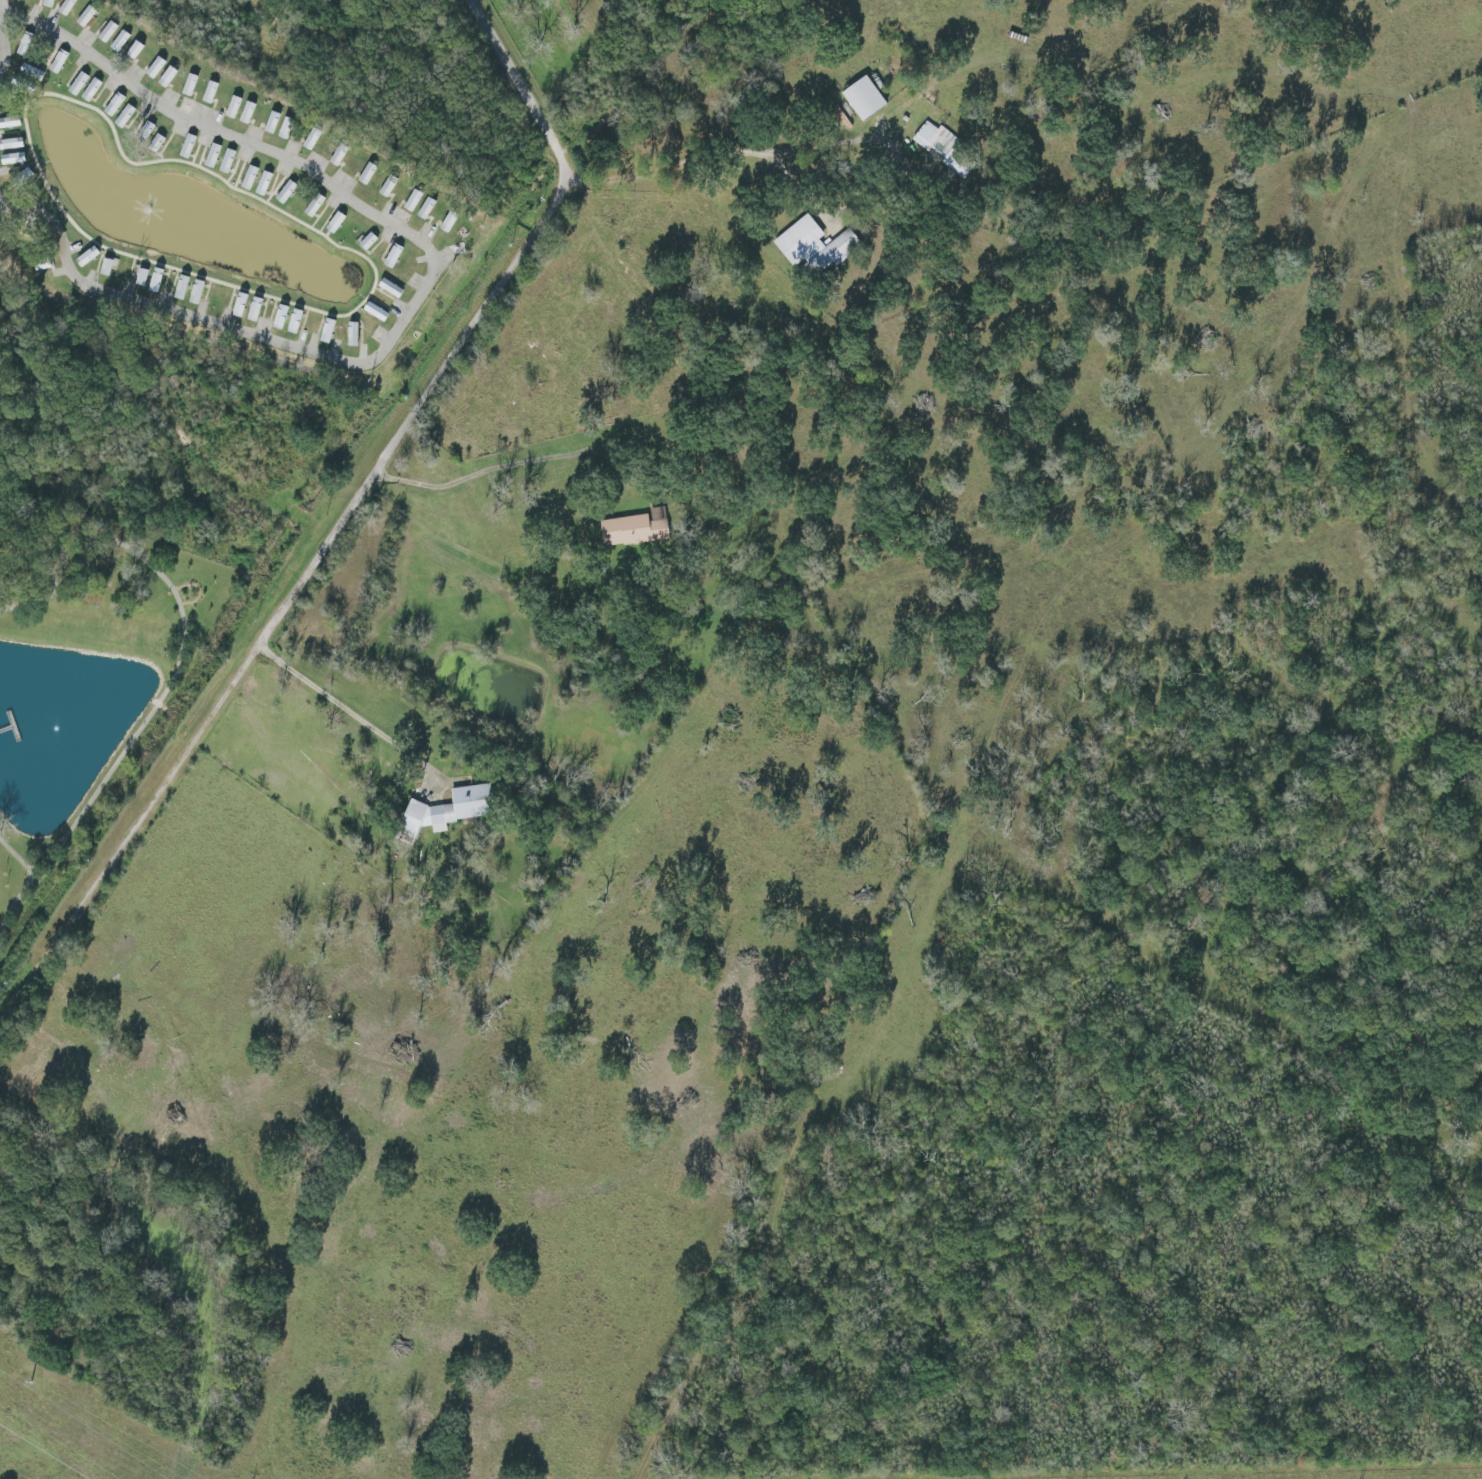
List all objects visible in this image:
building: (48, 3)
building: (66, 7)
building: (85, 16)
building: (106, 32)
building: (119, 41)
building: (24, 45)
building: (134, 50)
building: (58, 62)
building: (155, 68)
building: (31, 72)
building: (167, 77)
building: (77, 84)
building: (189, 85)
building: (91, 90)
building: (209, 92)
building: (865, 99)
building: (114, 105)
building: (232, 107)
building: (247, 113)
building: (124, 116)
building: (9, 122)
building: (271, 123)
building: (285, 128)
building: (147, 129)
building: (311, 139)
building: (156, 142)
building: (11, 144)
building: (187, 146)
building: (941, 147)
road: (729, 154)
building: (338, 155)
building: (212, 156)
building: (13, 159)
building: (227, 161)
building: (367, 174)
building: (249, 178)
building: (263, 184)
building: (387, 186)
building: (286, 192)
building: (412, 201)
building: (314, 206)
building: (425, 209)
building: (448, 222)
building: (335, 223)
building: (368, 242)
building: (814, 246)
building: (392, 256)
building: (87, 257)
building: (105, 267)
road: (432, 275)
building: (141, 278)
building: (155, 280)
building: (391, 288)
building: (239, 306)
building: (376, 312)
building: (280, 317)
building: (327, 331)
building: (352, 335)
road: (505, 465)
road: (346, 524)
building: (636, 529)
road: (350, 704)
building: (449, 810)
power tower: (24, 1378)

